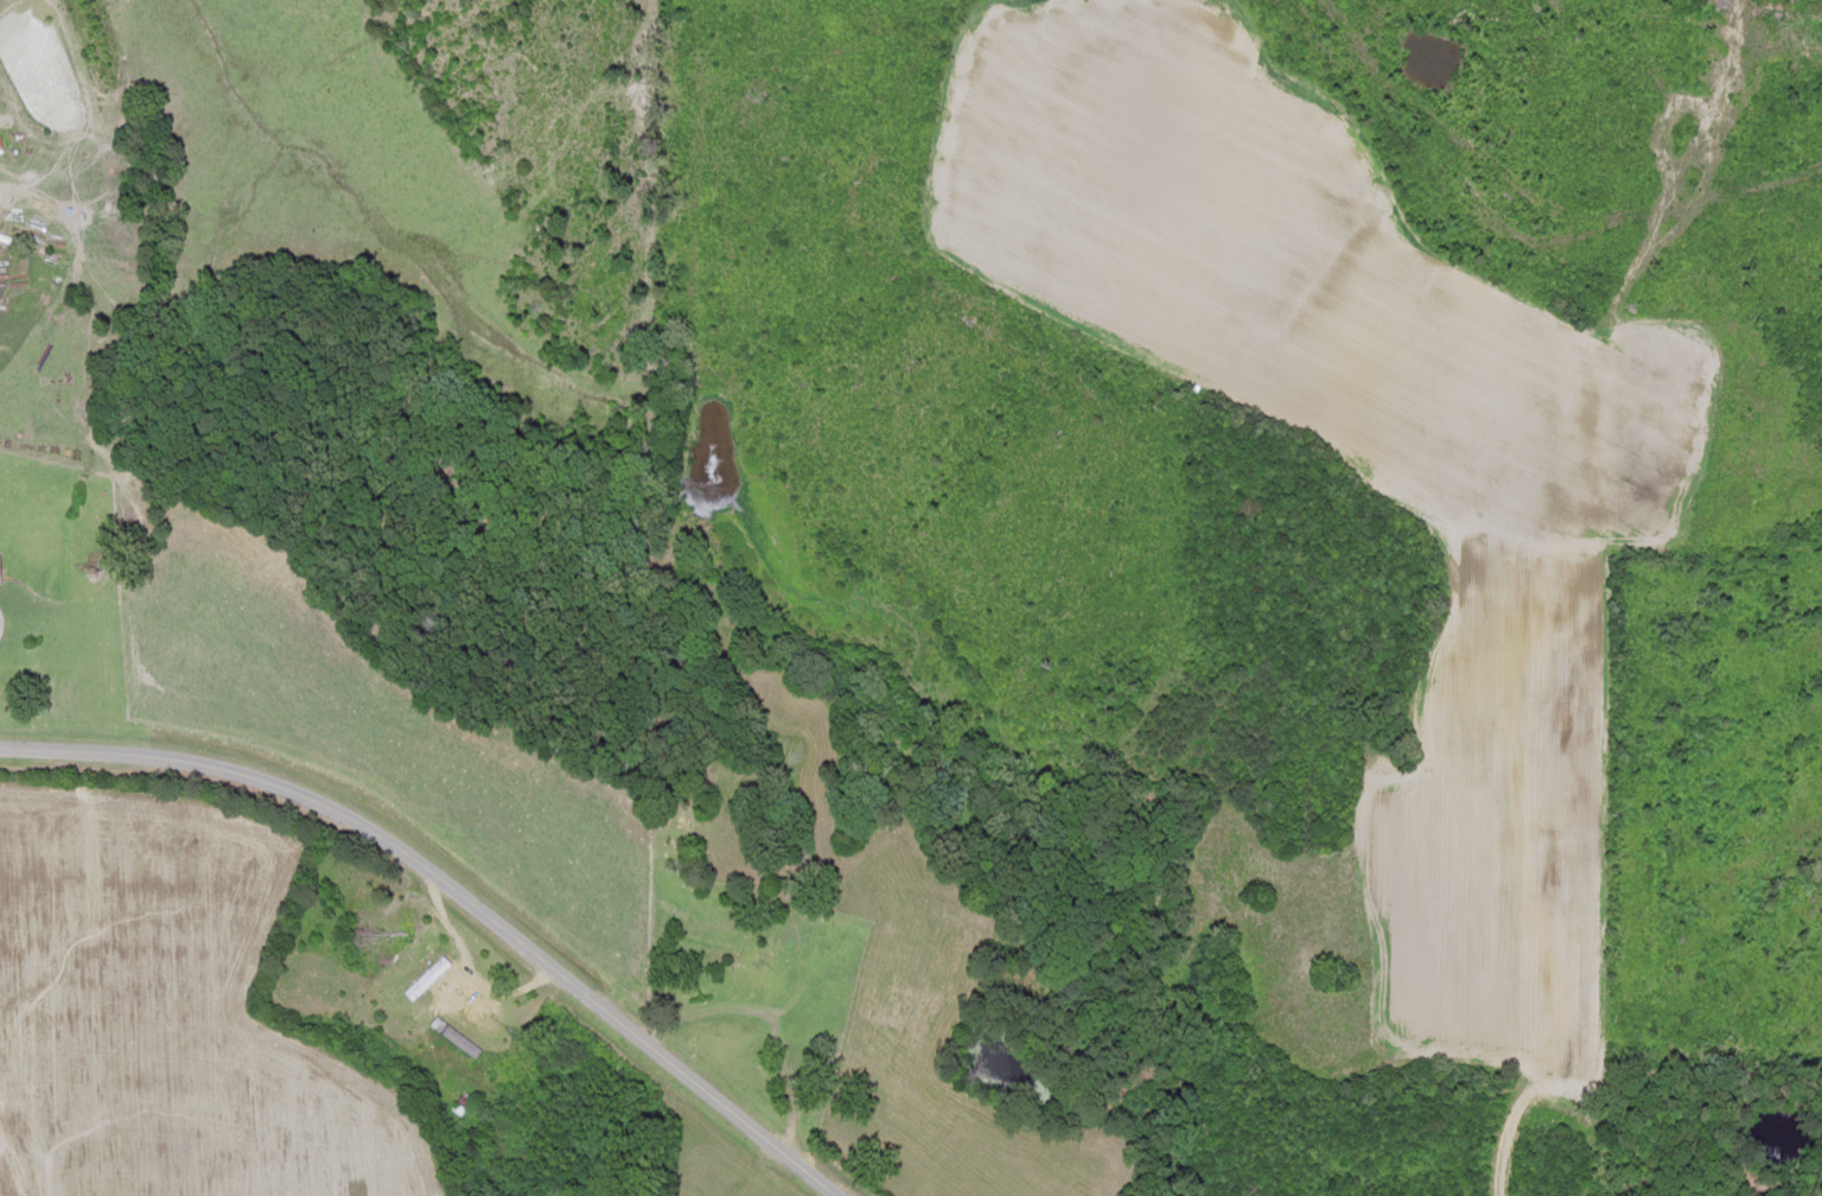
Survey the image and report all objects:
road: (472, 888)
building: (756, 969)
building: (426, 976)

